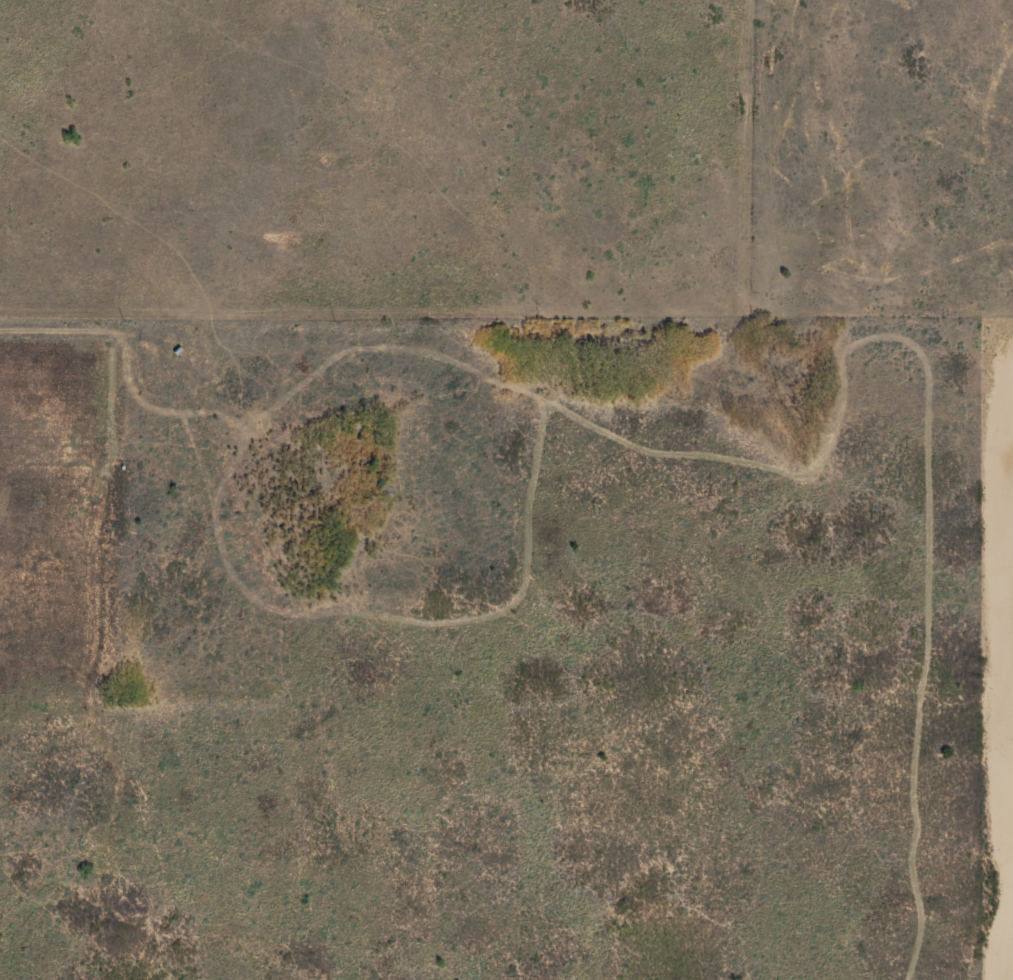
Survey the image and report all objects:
road: (79, 326)

